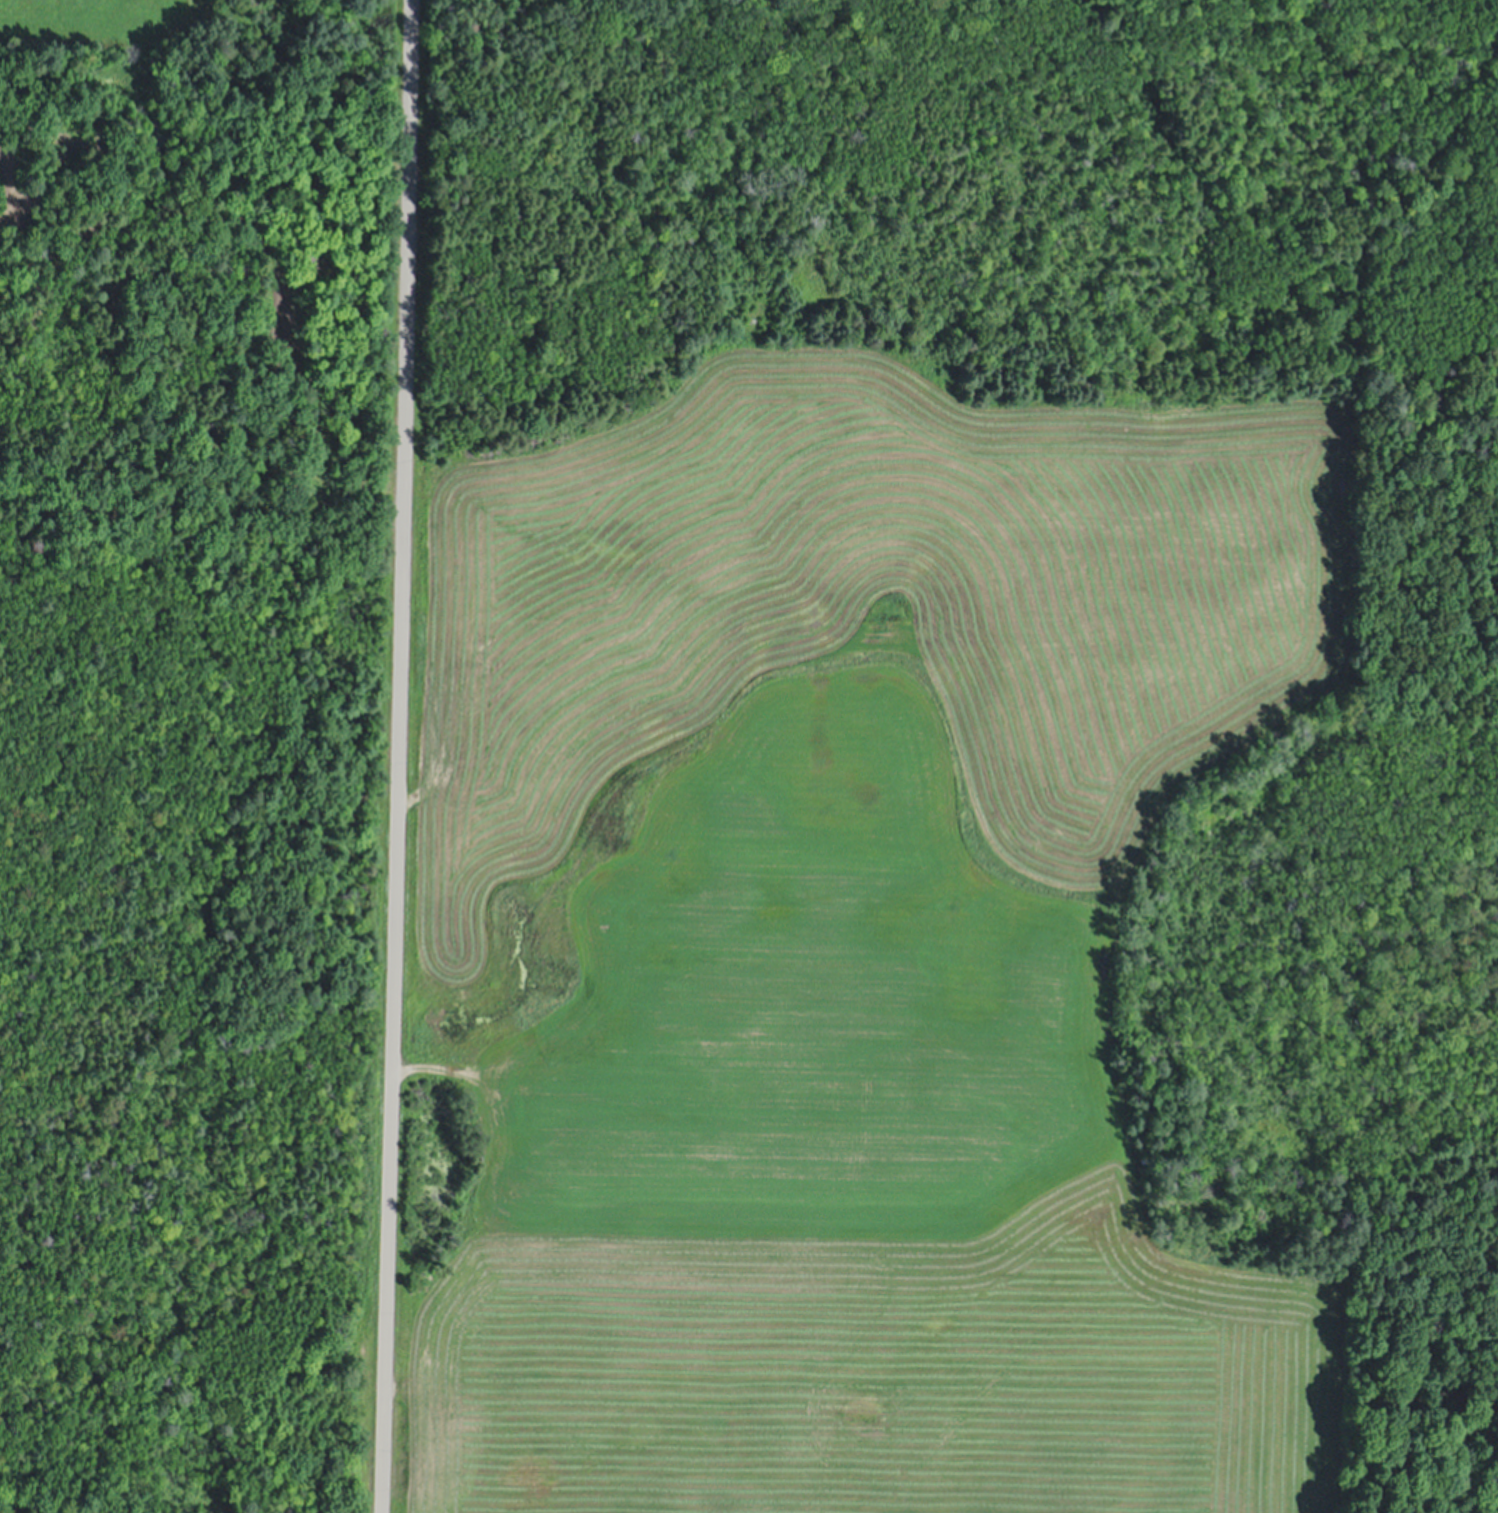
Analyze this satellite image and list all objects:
road: (396, 756)
building: (729, 1020)
building: (708, 1123)

